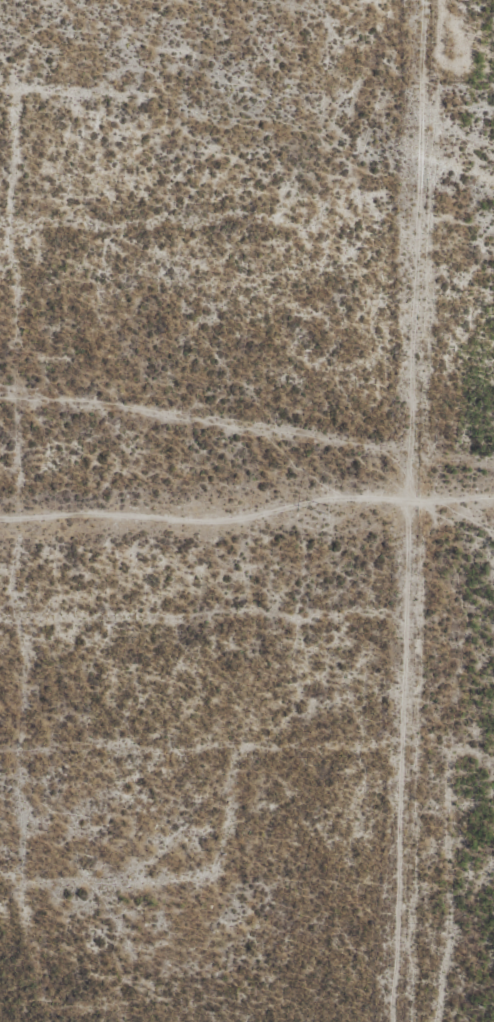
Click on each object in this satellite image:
power tower: (328, 510)

